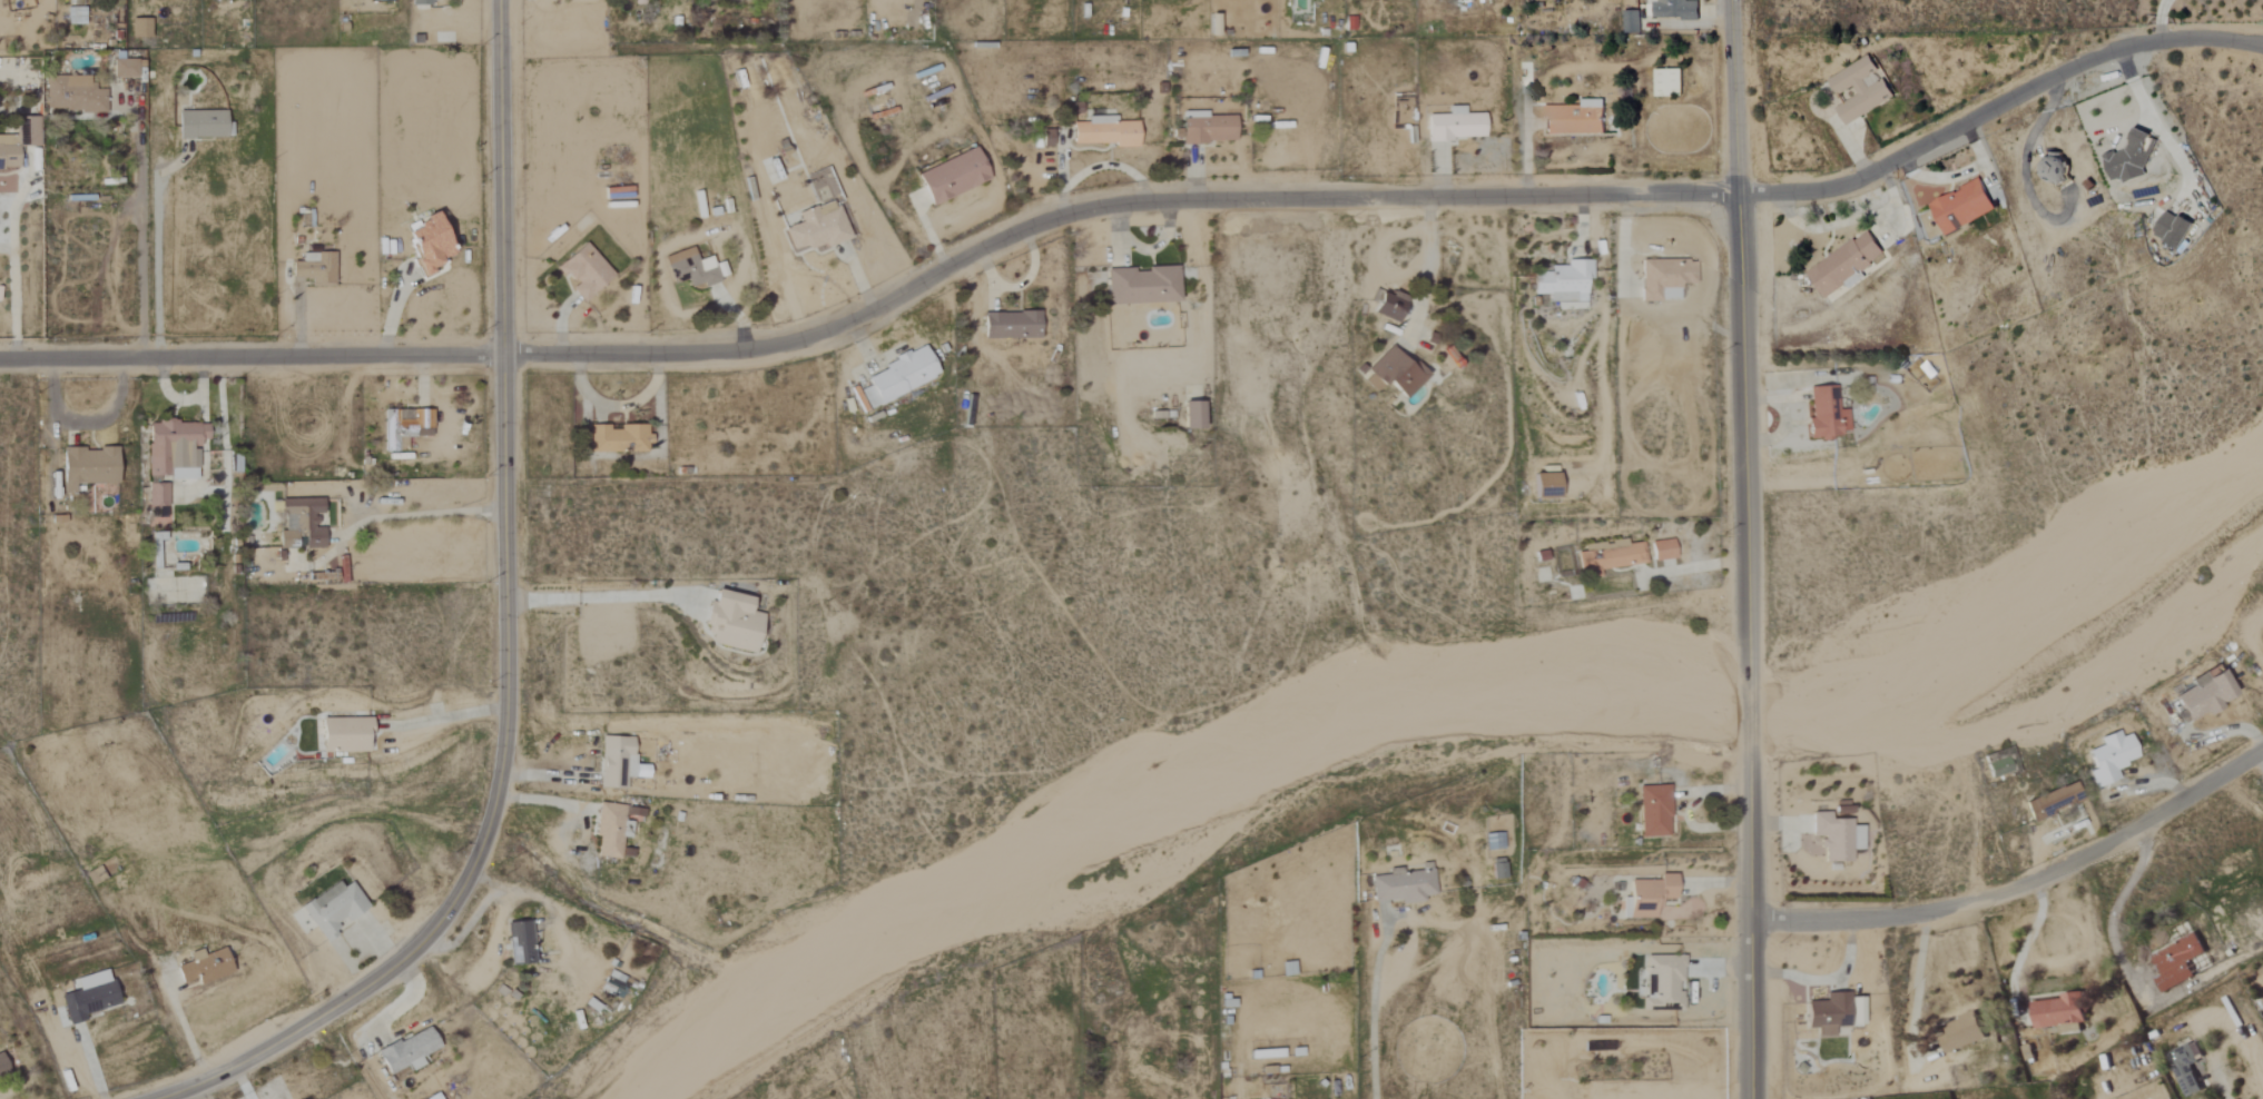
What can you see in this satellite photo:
building: (422, 2)
building: (1674, 10)
building: (75, 16)
road: (2157, 19)
building: (1631, 22)
building: (141, 29)
building: (124, 68)
building: (1666, 82)
building: (1859, 89)
building: (72, 93)
building: (1574, 118)
building: (203, 123)
building: (1455, 126)
building: (1206, 128)
building: (1105, 131)
building: (27, 135)
building: (8, 152)
building: (2129, 160)
building: (2050, 167)
road: (2023, 169)
building: (953, 175)
road: (1133, 204)
building: (1960, 206)
building: (818, 227)
building: (2173, 229)
road: (137, 235)
building: (427, 242)
building: (1846, 264)
building: (314, 268)
building: (695, 268)
building: (584, 271)
road: (1423, 271)
building: (1665, 277)
building: (1563, 283)
building: (1141, 284)
road: (12, 299)
building: (1389, 305)
building: (1011, 323)
building: (1391, 370)
building: (896, 377)
building: (1826, 413)
building: (1192, 415)
road: (86, 422)
building: (403, 427)
building: (618, 438)
building: (174, 448)
building: (88, 466)
building: (1546, 485)
building: (157, 494)
road: (502, 494)
building: (158, 513)
road: (415, 513)
building: (301, 524)
road: (1747, 548)
building: (1663, 549)
building: (1607, 556)
road: (1694, 568)
road: (602, 595)
building: (732, 622)
building: (2262, 640)
building: (2203, 695)
road: (450, 717)
building: (345, 734)
building: (2111, 758)
building: (616, 761)
building: (2003, 763)
building: (2052, 800)
building: (1654, 811)
building: (613, 829)
building: (1836, 835)
building: (1493, 842)
building: (1497, 869)
building: (1403, 887)
road: (2021, 887)
building: (1650, 894)
road: (2114, 905)
building: (332, 909)
building: (519, 943)
road: (2026, 945)
building: (2178, 963)
building: (204, 967)
road: (1823, 980)
building: (1663, 983)
road: (1916, 992)
building: (89, 996)
road: (1371, 1007)
building: (1858, 1011)
building: (1829, 1013)
building: (2059, 1013)
road: (183, 1028)
building: (1961, 1032)
road: (287, 1039)
building: (407, 1051)
building: (2, 1066)
building: (2184, 1070)

